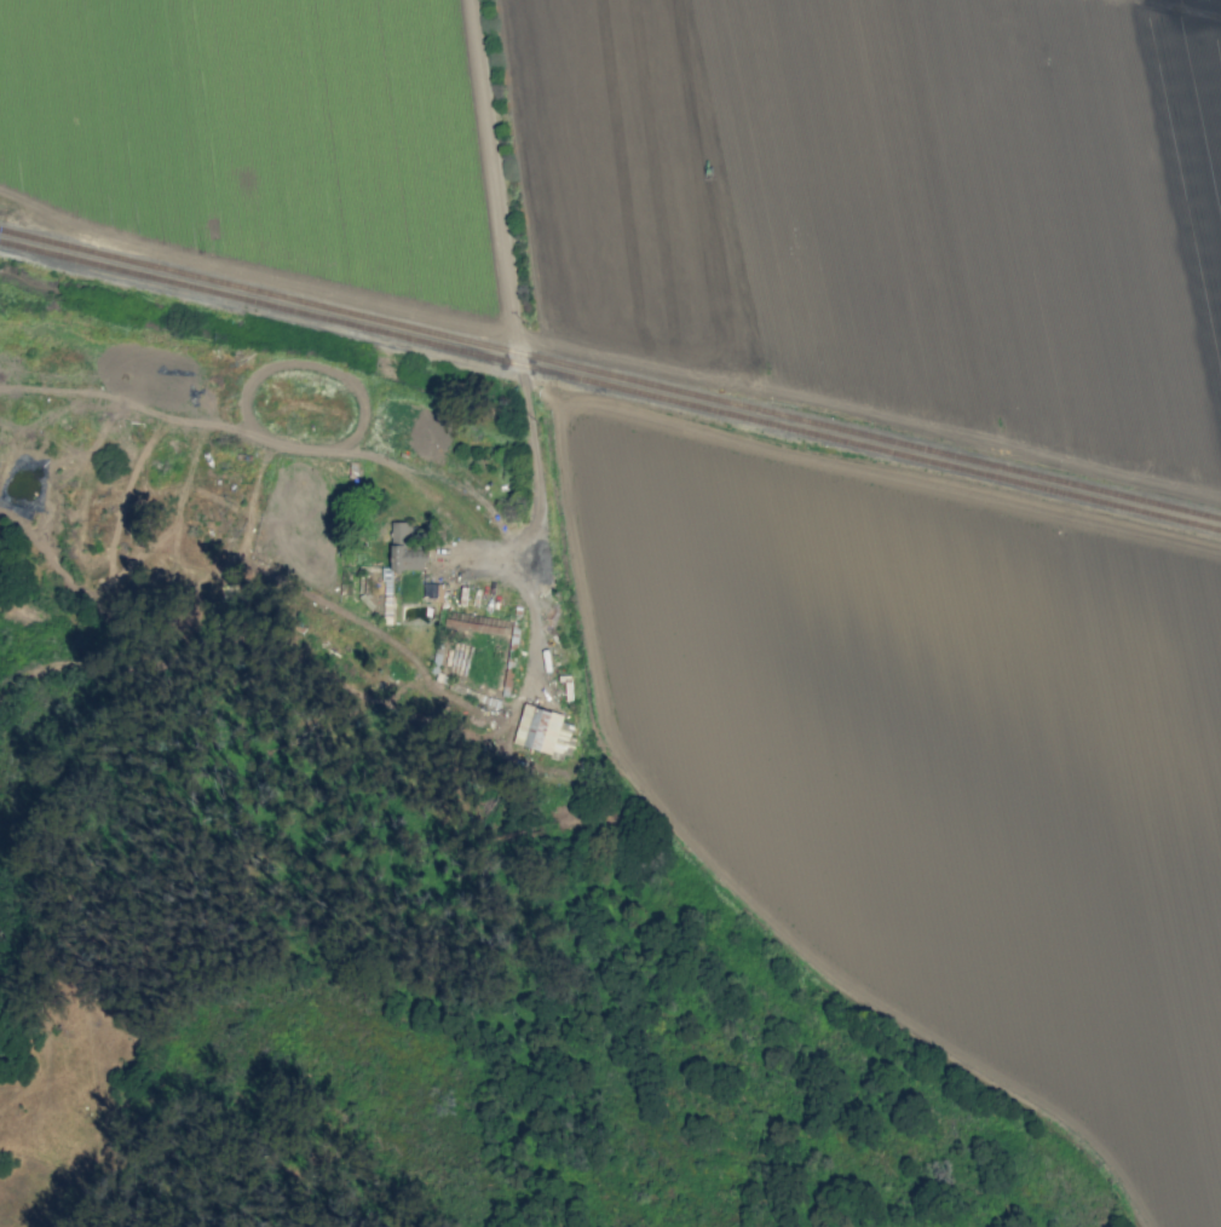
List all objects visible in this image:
road: (1015, 46)
crop: (695, 188)
road: (854, 202)
road: (507, 261)
railway: (610, 374)
railway: (610, 385)
road: (863, 417)
building: (401, 530)
building: (407, 558)
building: (432, 591)
building: (537, 728)
crop: (933, 756)

